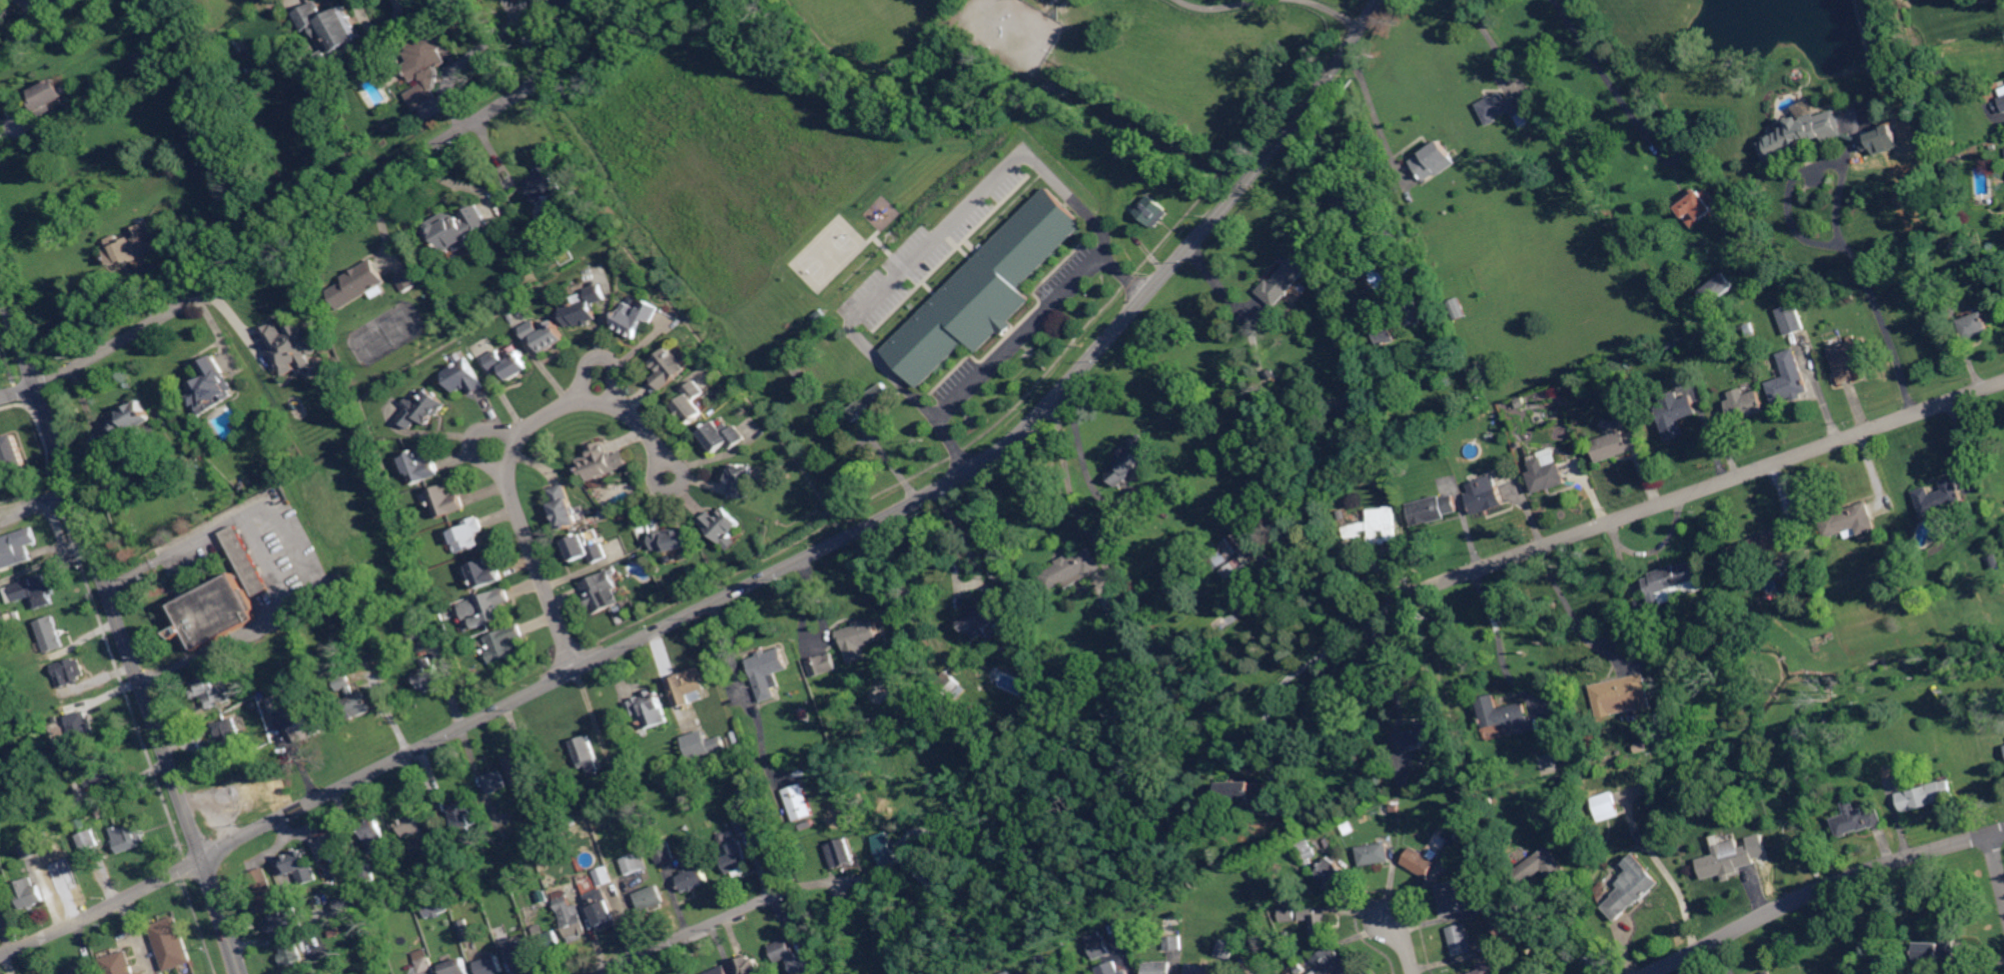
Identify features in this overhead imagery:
road: (1219, 8)
road: (1328, 10)
building: (331, 33)
road: (528, 36)
road: (1488, 39)
road: (461, 61)
road: (1594, 61)
building: (142, 64)
building: (426, 66)
building: (46, 96)
building: (2003, 98)
building: (1508, 106)
road: (1376, 117)
road: (460, 127)
building: (1803, 134)
building: (1889, 140)
building: (1947, 145)
building: (1433, 158)
road: (1676, 158)
building: (1142, 163)
building: (543, 187)
building: (1339, 203)
building: (1699, 204)
building: (1365, 206)
building: (1154, 211)
building: (1745, 224)
building: (455, 228)
road: (1800, 232)
building: (1390, 234)
road: (936, 237)
building: (131, 246)
building: (1765, 251)
building: (1482, 252)
building: (203, 256)
building: (1287, 276)
building: (1676, 280)
building: (406, 281)
building: (358, 284)
building: (1719, 287)
building: (986, 291)
building: (585, 308)
building: (1459, 308)
building: (1411, 312)
building: (635, 318)
building: (1790, 318)
road: (143, 321)
building: (1976, 324)
building: (1384, 329)
building: (544, 334)
road: (1016, 336)
building: (1676, 344)
building: (288, 345)
road: (603, 355)
building: (1852, 356)
building: (509, 364)
building: (667, 368)
building: (464, 374)
building: (1272, 374)
building: (1790, 378)
building: (210, 385)
road: (18, 393)
building: (1391, 393)
building: (1366, 400)
building: (871, 401)
building: (692, 403)
building: (1520, 403)
building: (849, 404)
building: (1746, 404)
building: (1351, 407)
building: (421, 408)
building: (1676, 414)
building: (131, 420)
road: (471, 436)
building: (723, 436)
building: (1617, 444)
building: (12, 454)
building: (1132, 458)
road: (510, 460)
building: (598, 462)
road: (1088, 462)
building: (419, 467)
building: (1547, 473)
building: (742, 480)
building: (1487, 494)
building: (1940, 496)
road: (1676, 498)
building: (445, 501)
building: (1339, 503)
building: (563, 507)
building: (1434, 508)
building: (1850, 519)
building: (721, 524)
building: (1377, 525)
road: (868, 526)
building: (468, 534)
building: (672, 540)
building: (16, 548)
building: (1758, 548)
building: (585, 550)
building: (246, 561)
road: (977, 562)
building: (1240, 564)
road: (269, 565)
building: (1073, 569)
building: (1749, 570)
building: (485, 573)
building: (1673, 579)
building: (1008, 586)
building: (33, 590)
building: (600, 592)
building: (493, 605)
road: (1564, 607)
building: (215, 612)
building: (987, 614)
building: (6, 619)
road: (121, 629)
building: (413, 629)
building: (50, 634)
building: (860, 634)
road: (1490, 634)
building: (1830, 635)
building: (1004, 641)
building: (505, 643)
building: (1831, 649)
building: (912, 650)
building: (824, 664)
building: (68, 672)
building: (768, 672)
building: (428, 675)
road: (1394, 677)
road: (1282, 683)
building: (951, 684)
building: (690, 685)
building: (1751, 690)
building: (207, 692)
building: (1624, 692)
building: (351, 696)
road: (744, 696)
building: (40, 701)
building: (277, 703)
building: (252, 704)
building: (651, 708)
building: (1507, 713)
building: (304, 723)
building: (79, 730)
building: (1428, 731)
building: (223, 737)
building: (1668, 739)
building: (703, 745)
building: (586, 754)
building: (518, 769)
building: (102, 777)
building: (72, 778)
building: (620, 780)
building: (495, 782)
building: (741, 790)
building: (1928, 794)
building: (1243, 795)
building: (1703, 795)
building: (1299, 796)
building: (799, 802)
building: (1607, 807)
building: (99, 813)
building: (1858, 818)
building: (462, 819)
building: (572, 821)
building: (652, 822)
building: (411, 825)
building: (745, 825)
building: (807, 825)
building: (374, 835)
building: (504, 835)
building: (611, 836)
building: (42, 837)
building: (127, 838)
building: (1644, 839)
building: (88, 840)
building: (1458, 846)
building: (329, 847)
building: (884, 848)
building: (28, 849)
building: (664, 850)
building: (1308, 850)
building: (842, 852)
building: (1375, 852)
building: (1729, 856)
road: (1997, 860)
building: (736, 861)
building: (1421, 861)
building: (634, 863)
building: (1541, 865)
building: (297, 867)
building: (367, 873)
building: (1334, 874)
building: (602, 877)
building: (693, 879)
building: (464, 887)
building: (1633, 887)
road: (1821, 889)
building: (1602, 890)
building: (262, 891)
building: (27, 893)
road: (1682, 895)
building: (1451, 897)
building: (649, 898)
building: (345, 904)
building: (1485, 904)
building: (436, 907)
road: (102, 909)
building: (602, 909)
building: (1288, 914)
building: (569, 916)
building: (413, 921)
building: (1318, 921)
building: (284, 922)
building: (464, 931)
building: (335, 932)
road: (684, 935)
road: (1550, 936)
building: (1461, 938)
building: (548, 941)
building: (1174, 942)
building: (171, 943)
road: (1405, 944)
building: (1100, 945)
building: (1226, 947)
building: (1937, 951)
building: (291, 954)
building: (518, 954)
building: (790, 957)
building: (423, 962)
building: (117, 964)
building: (1339, 964)
building: (490, 966)
building: (749, 966)
building: (457, 967)
building: (1159, 967)
building: (1114, 968)
building: (1201, 968)
building: (1490, 969)
building: (77, 971)
building: (720, 971)
building: (1009, 972)
building: (1769, 972)
building: (1241, 973)

